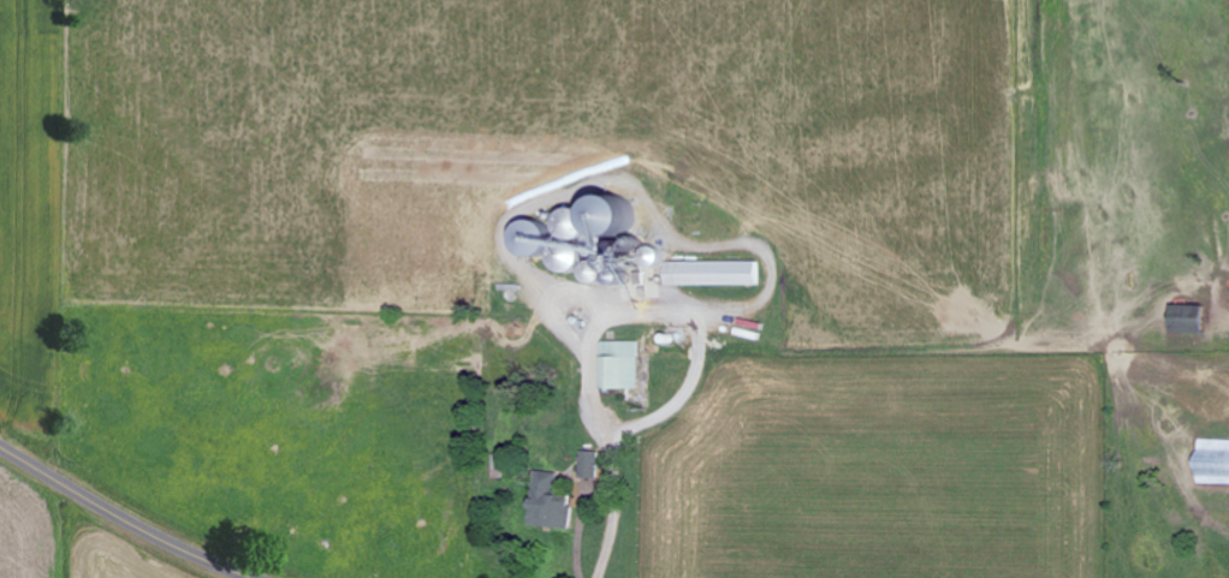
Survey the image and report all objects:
building: (710, 273)
building: (1186, 318)
building: (617, 365)
building: (1212, 461)
building: (588, 464)
building: (547, 502)
road: (124, 517)

